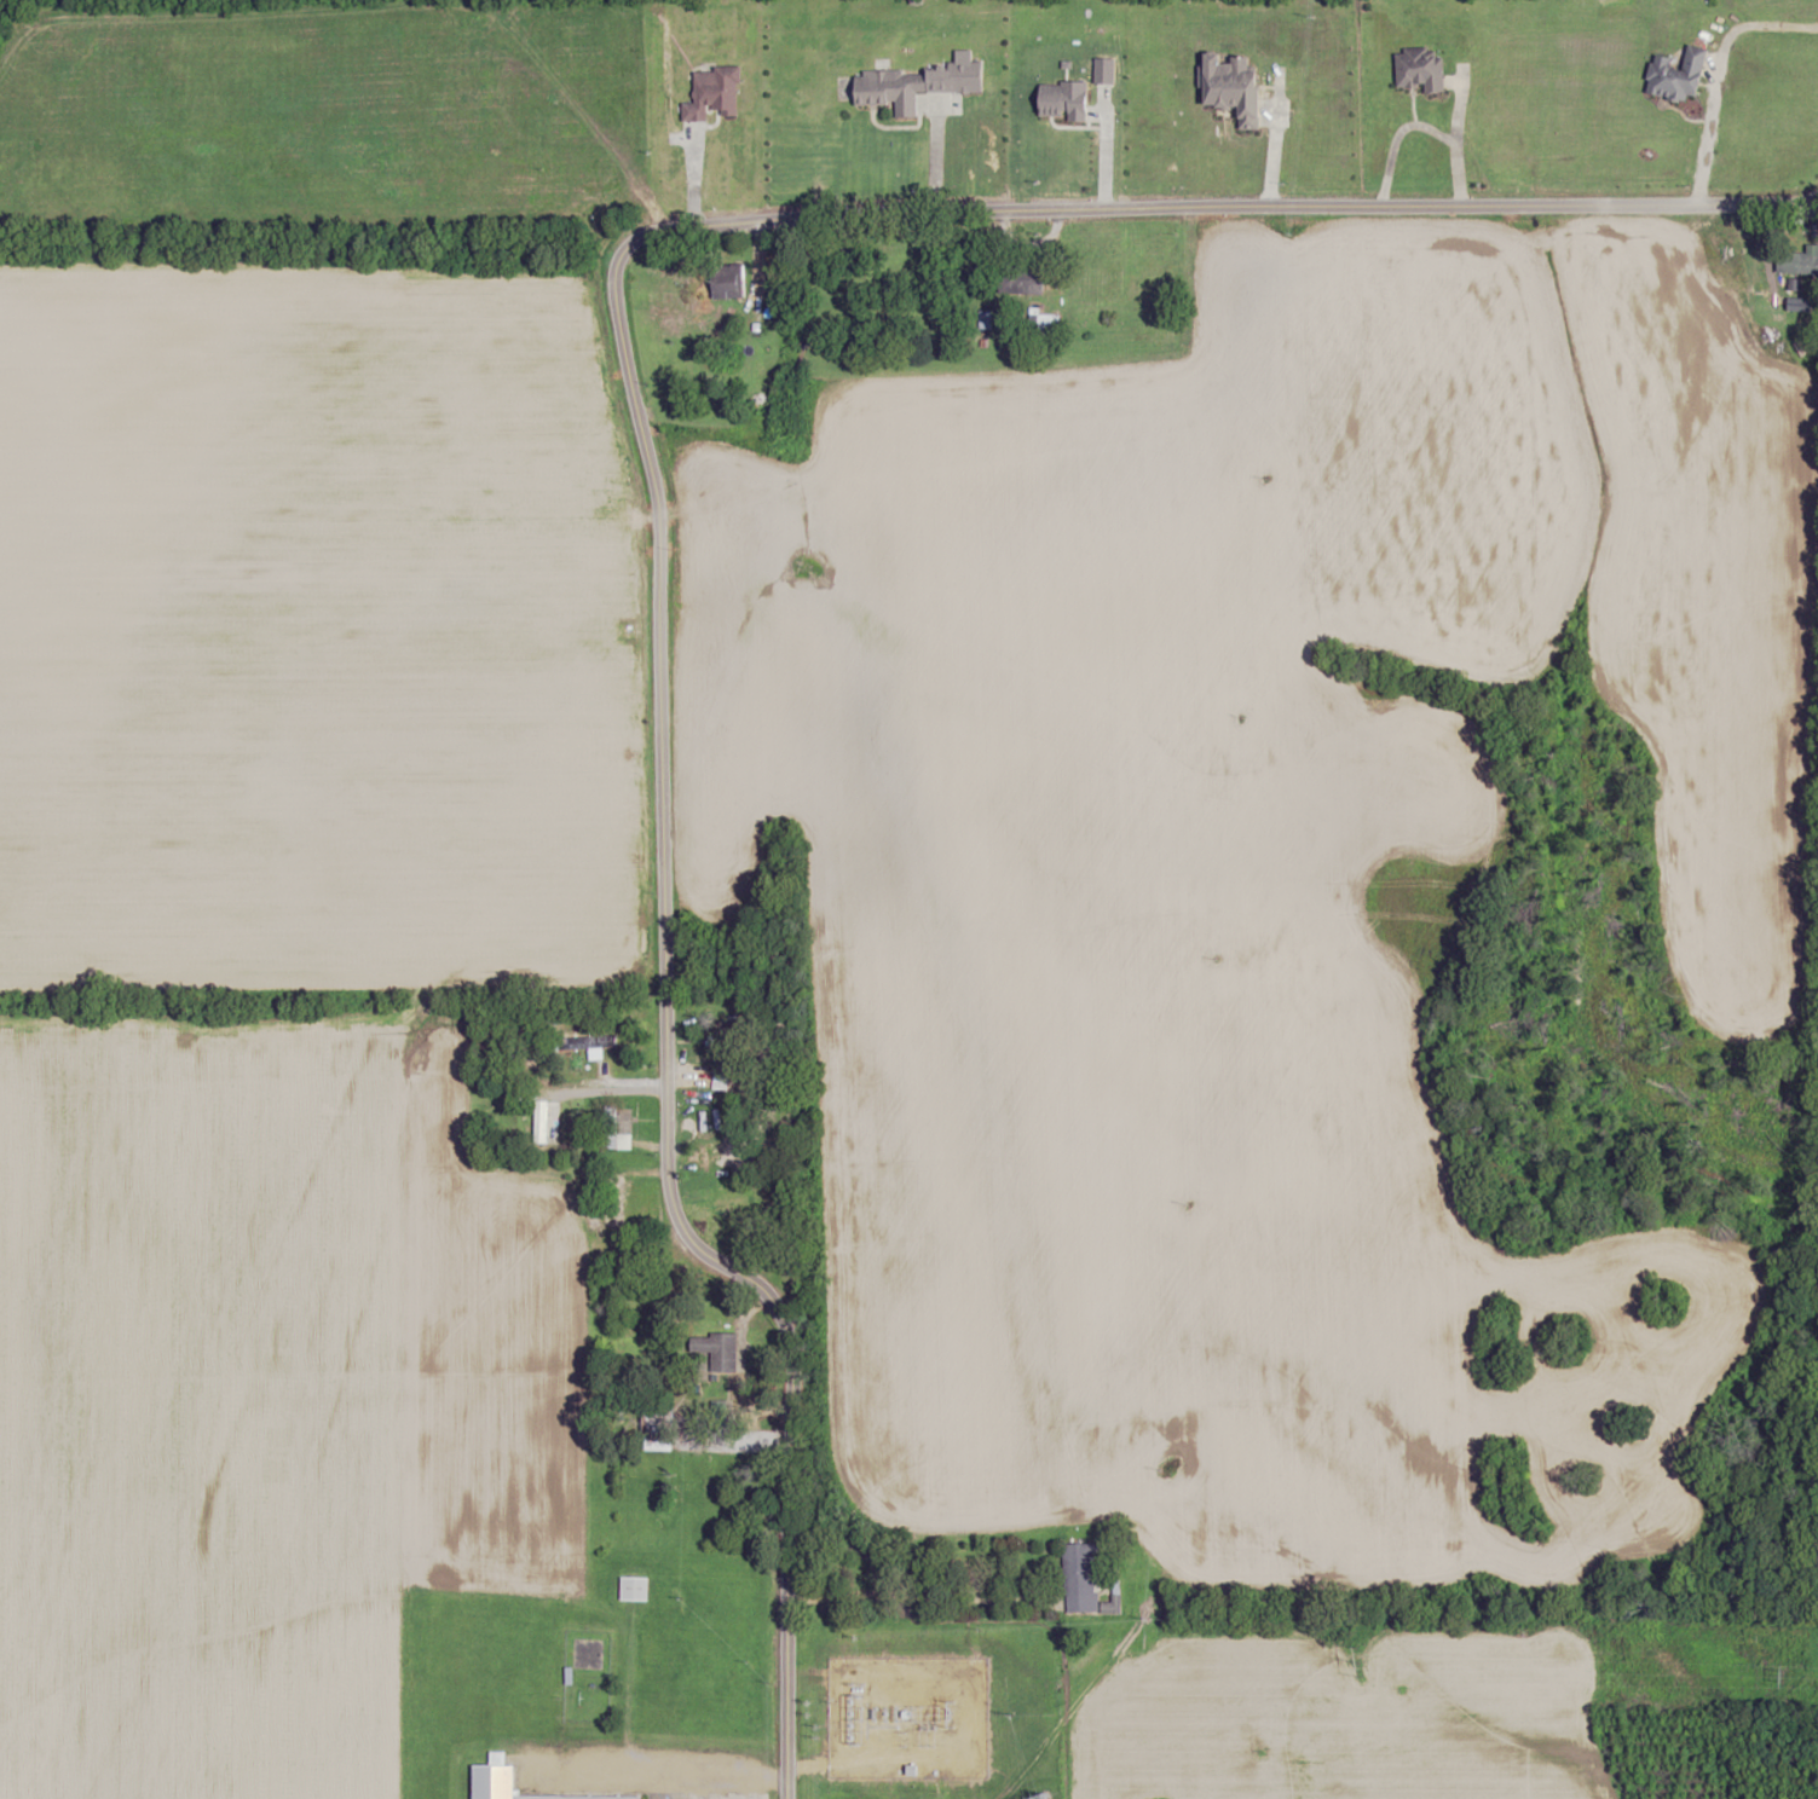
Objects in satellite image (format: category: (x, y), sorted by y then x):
building: (1420, 69)
building: (1676, 71)
building: (1233, 86)
building: (471, 88)
building: (887, 88)
building: (1797, 262)
building: (733, 279)
road: (642, 438)
road: (602, 1092)
building: (553, 1115)
building: (614, 1133)
building: (720, 1352)
crop: (197, 1410)
building: (1081, 1578)
building: (635, 1589)
road: (939, 1603)
power substation: (907, 1717)
road: (660, 1774)
building: (507, 1783)
parking lot: (715, 1798)

